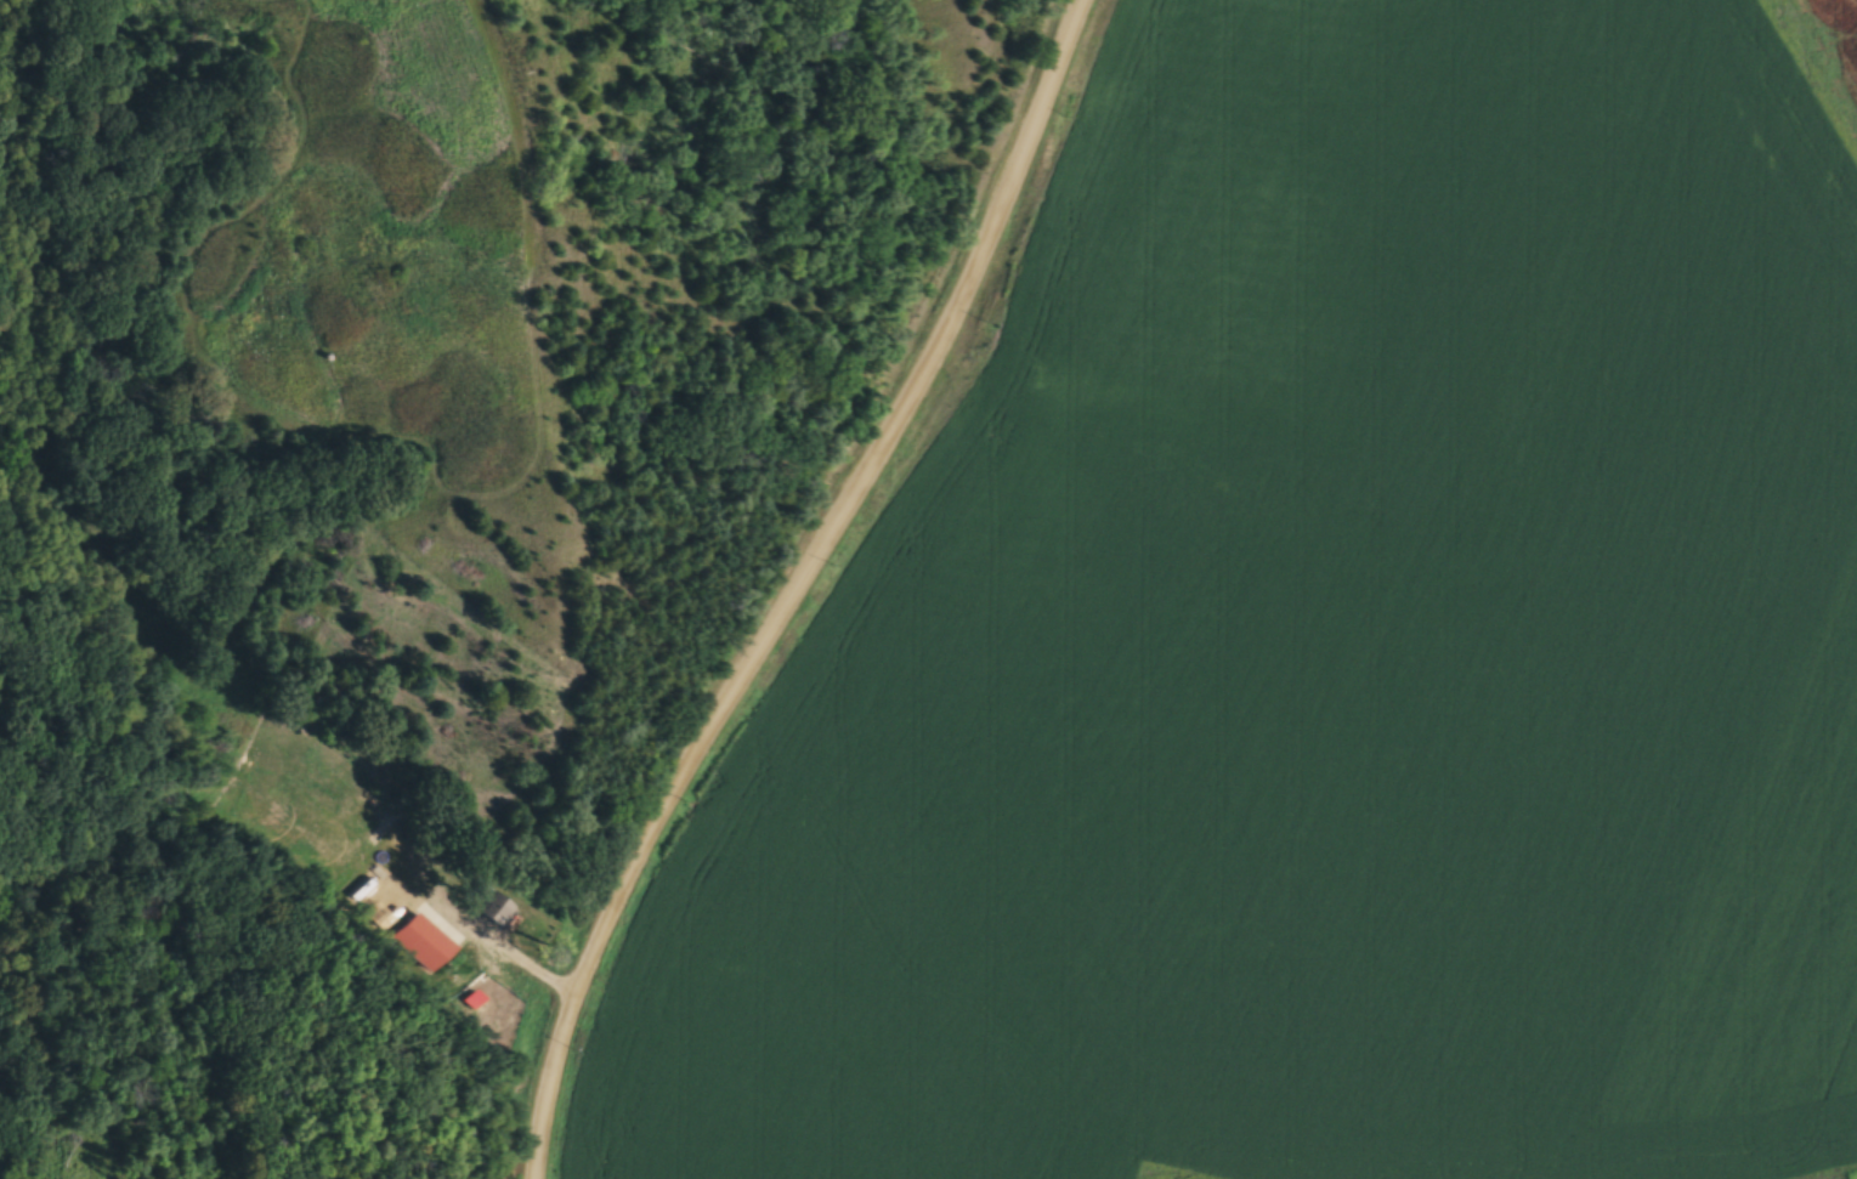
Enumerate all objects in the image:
road: (794, 586)

